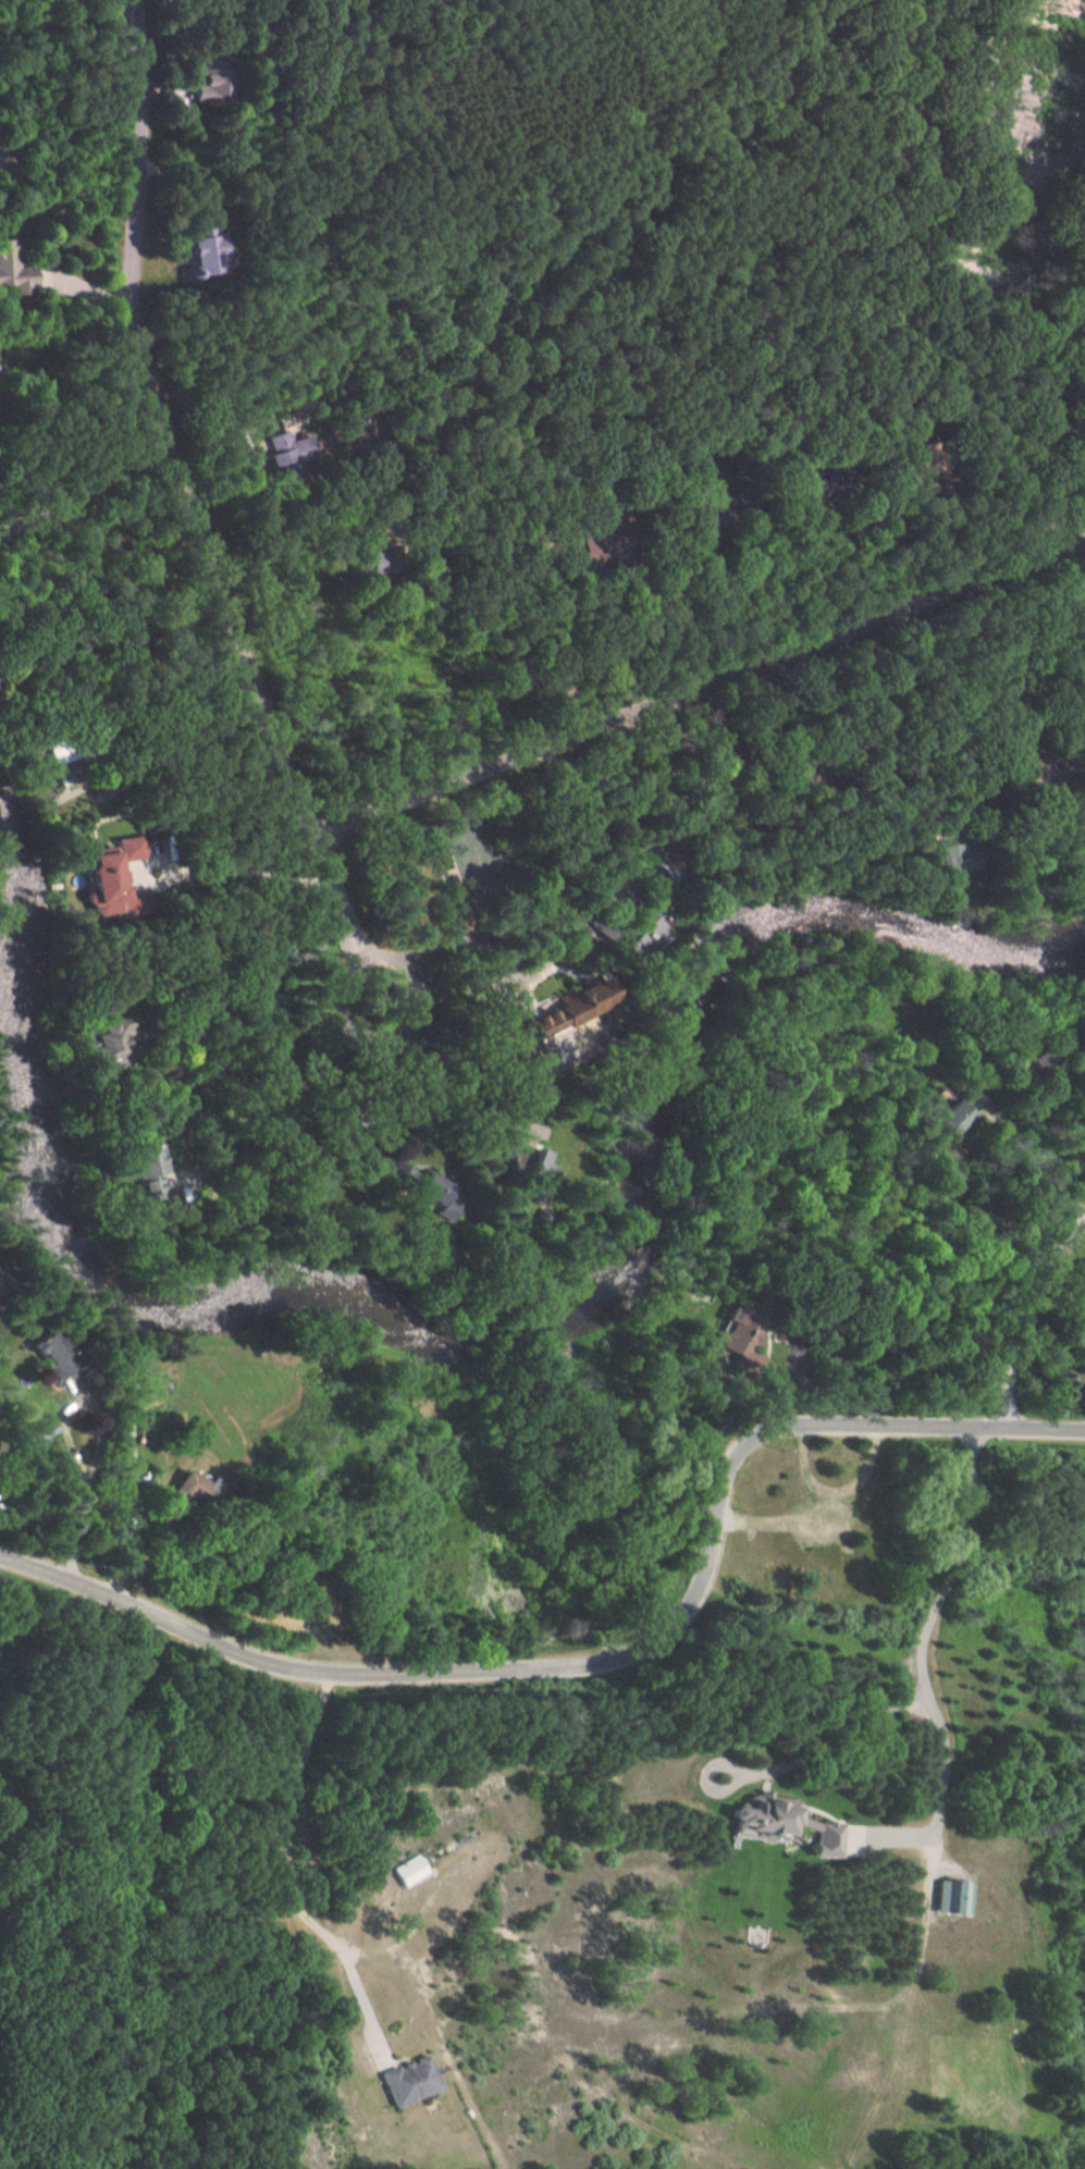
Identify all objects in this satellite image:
building: (211, 74)
building: (196, 247)
building: (10, 275)
road: (158, 427)
building: (280, 458)
road: (82, 489)
building: (700, 514)
building: (359, 569)
road: (692, 686)
building: (1029, 775)
building: (937, 863)
building: (98, 883)
building: (625, 934)
road: (353, 937)
building: (552, 1026)
building: (98, 1047)
building: (1032, 1061)
road: (424, 1114)
building: (941, 1118)
building: (137, 1170)
building: (415, 1188)
road: (1028, 1310)
river: (478, 1334)
building: (736, 1343)
building: (44, 1356)
building: (1080, 1365)
building: (182, 1493)
building: (814, 1524)
road: (914, 1648)
road: (604, 1655)
road: (263, 1862)
building: (422, 1871)
building: (415, 2082)

